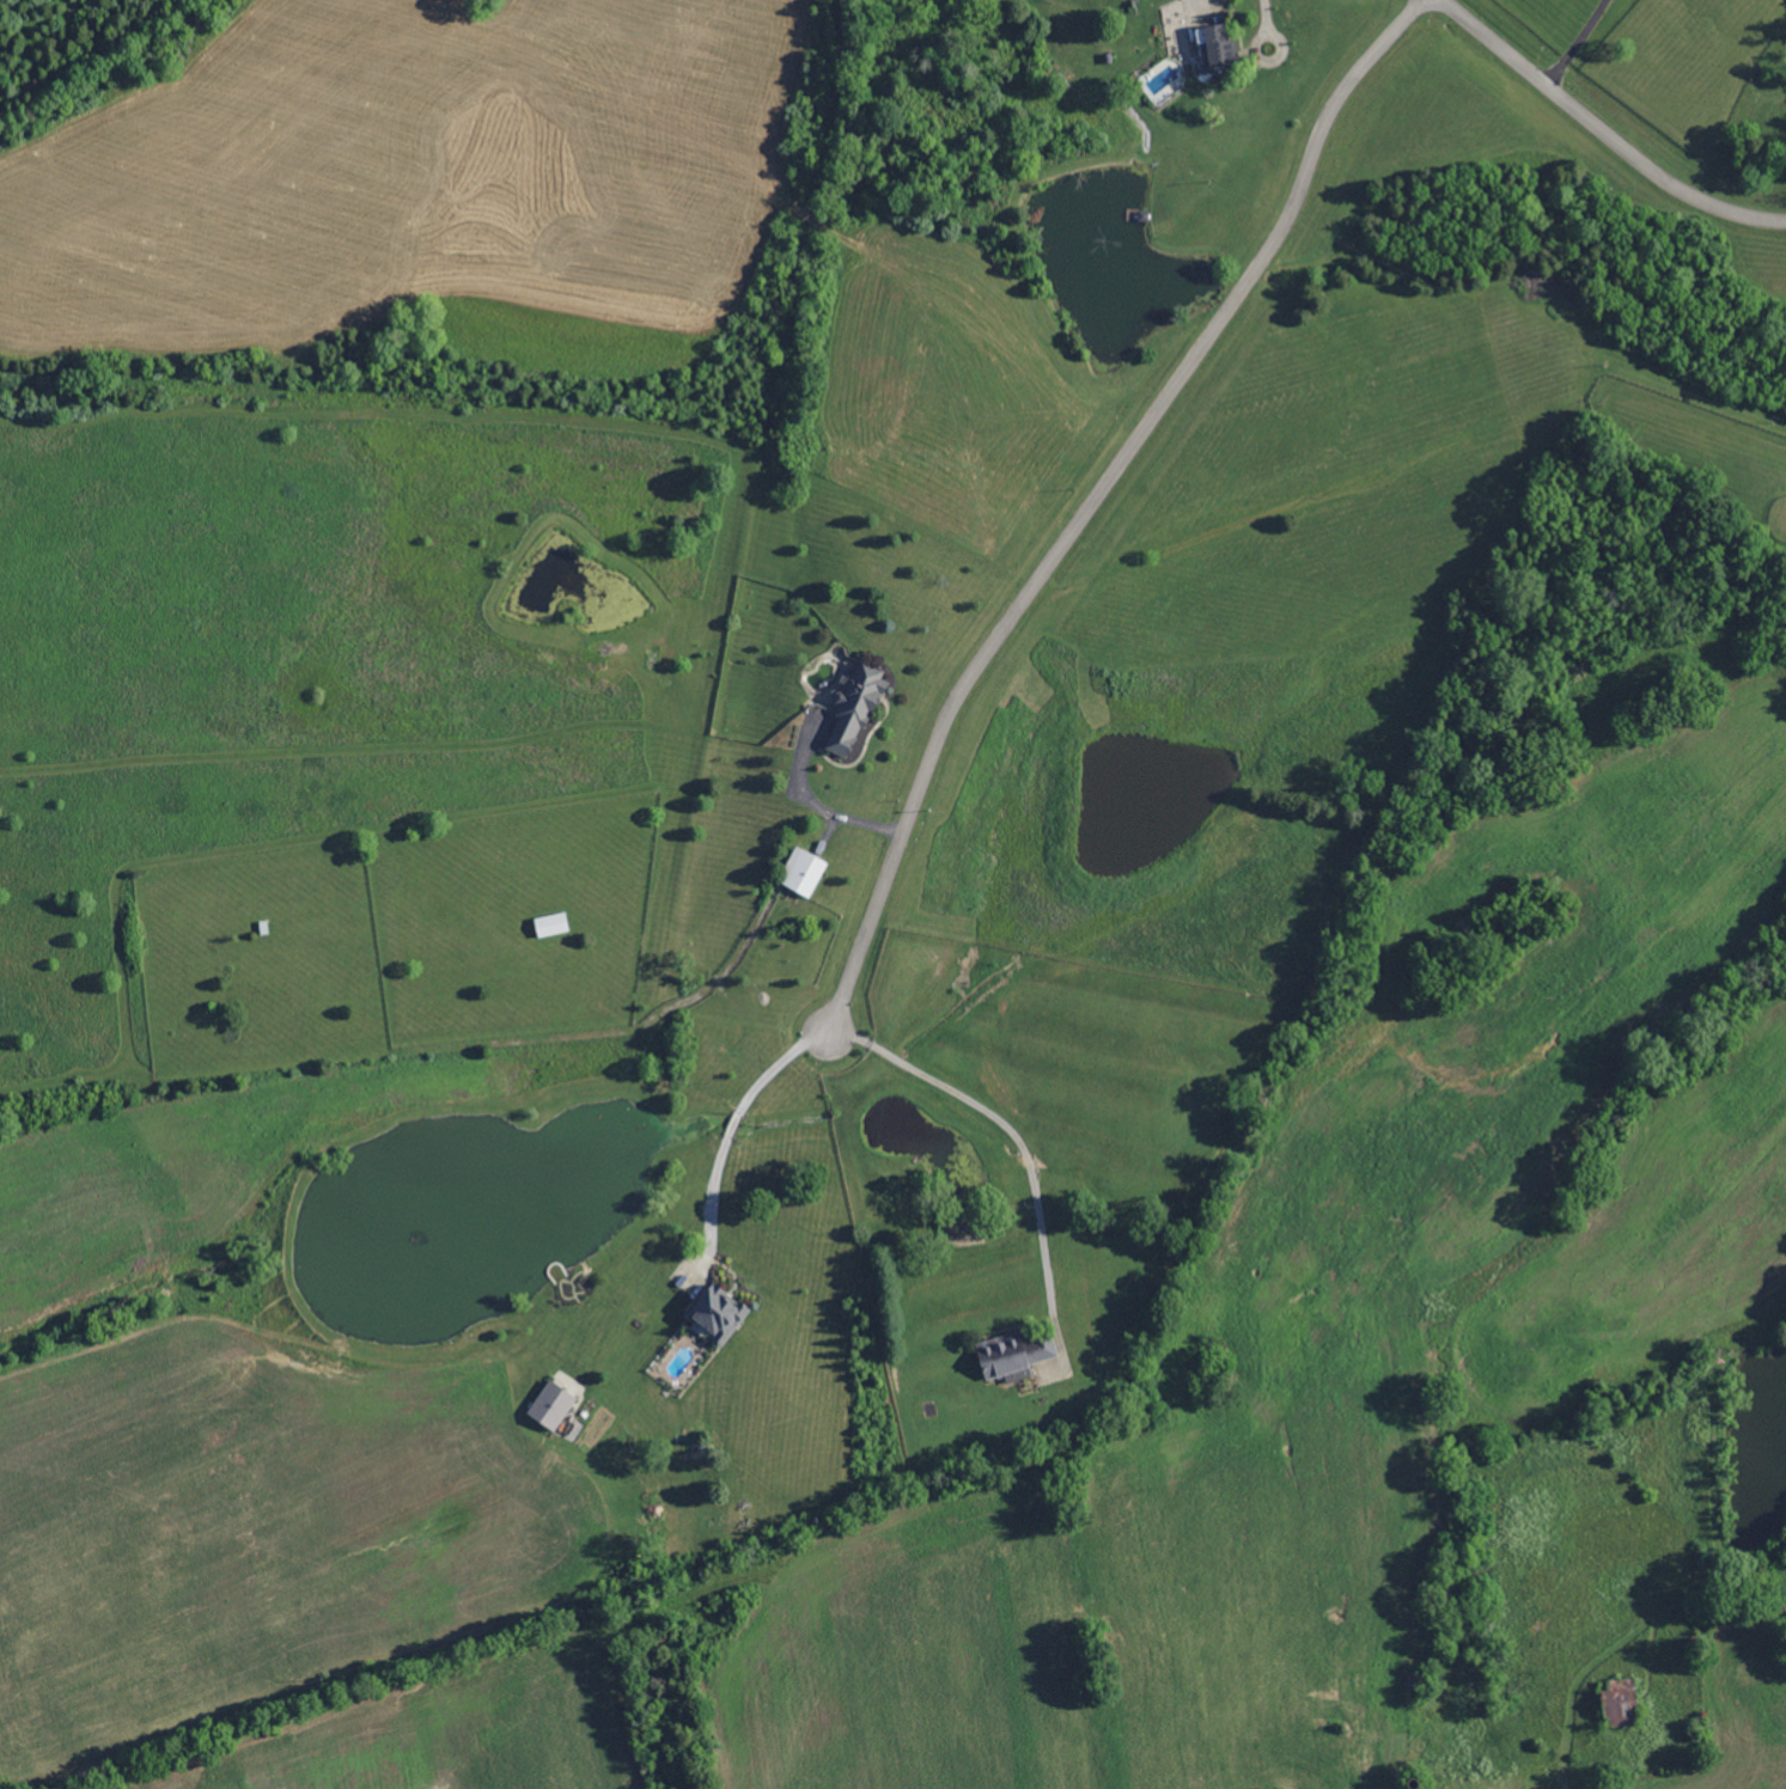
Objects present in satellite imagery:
road: (1261, 20)
road: (1581, 42)
building: (1223, 49)
building: (1110, 59)
building: (1031, 67)
building: (1034, 80)
road: (1605, 129)
building: (1144, 215)
road: (1093, 496)
building: (860, 707)
road: (818, 802)
building: (804, 873)
building: (554, 926)
building: (264, 928)
road: (772, 1057)
road: (727, 1118)
road: (1004, 1124)
road: (705, 1199)
building: (720, 1312)
building: (1014, 1353)
building: (550, 1406)
building: (1418, 1684)
building: (1621, 1703)
park: (37, 1727)
road: (1561, 1766)
building: (1415, 1783)

